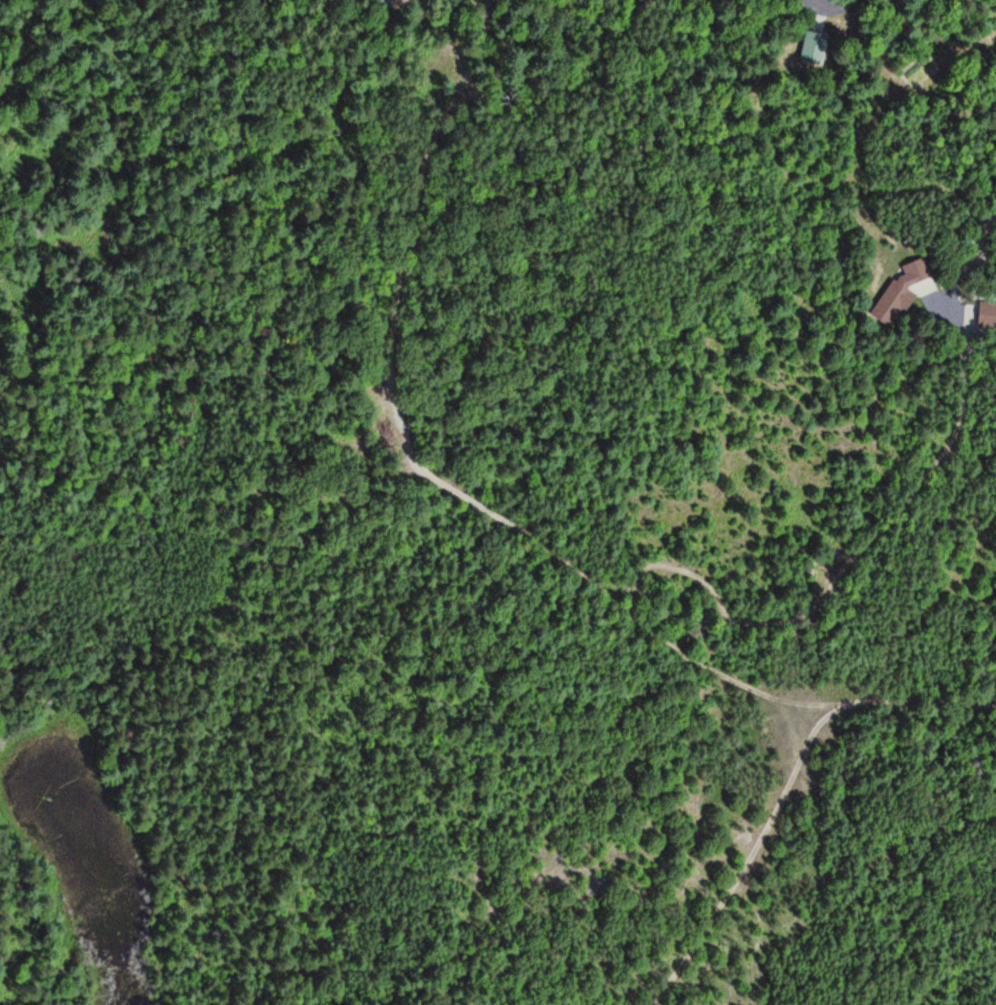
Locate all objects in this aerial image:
road: (847, 5)
building: (814, 47)
road: (986, 252)
road: (148, 282)
building: (902, 291)
building: (988, 314)
road: (980, 353)
road: (411, 451)
road: (929, 470)
road: (638, 569)
road: (476, 711)
road: (785, 787)

